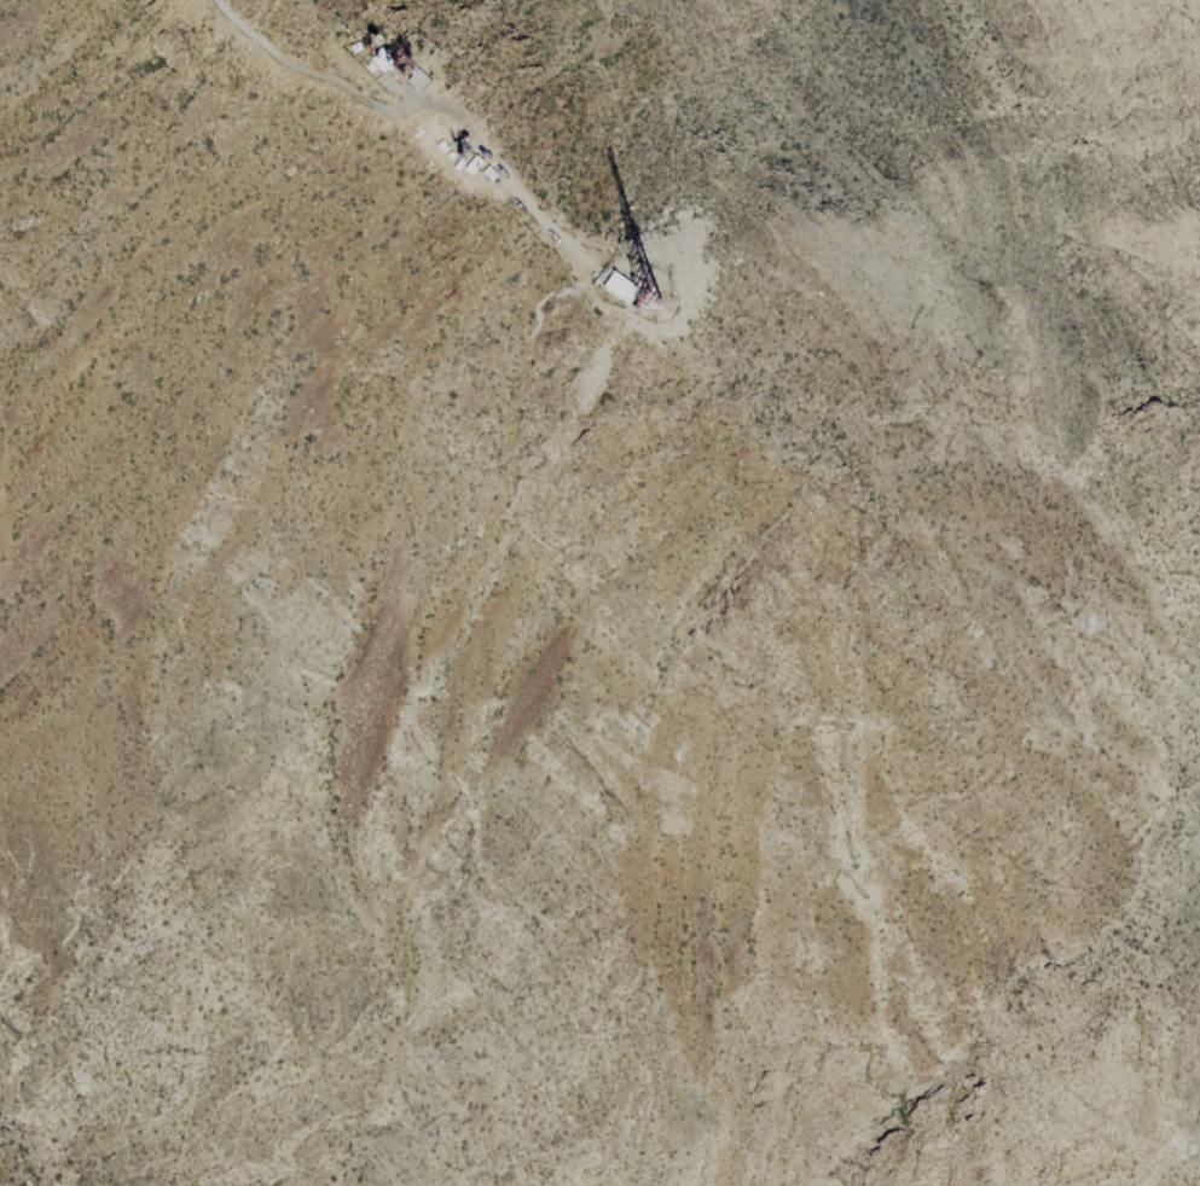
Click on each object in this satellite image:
road: (424, 103)

